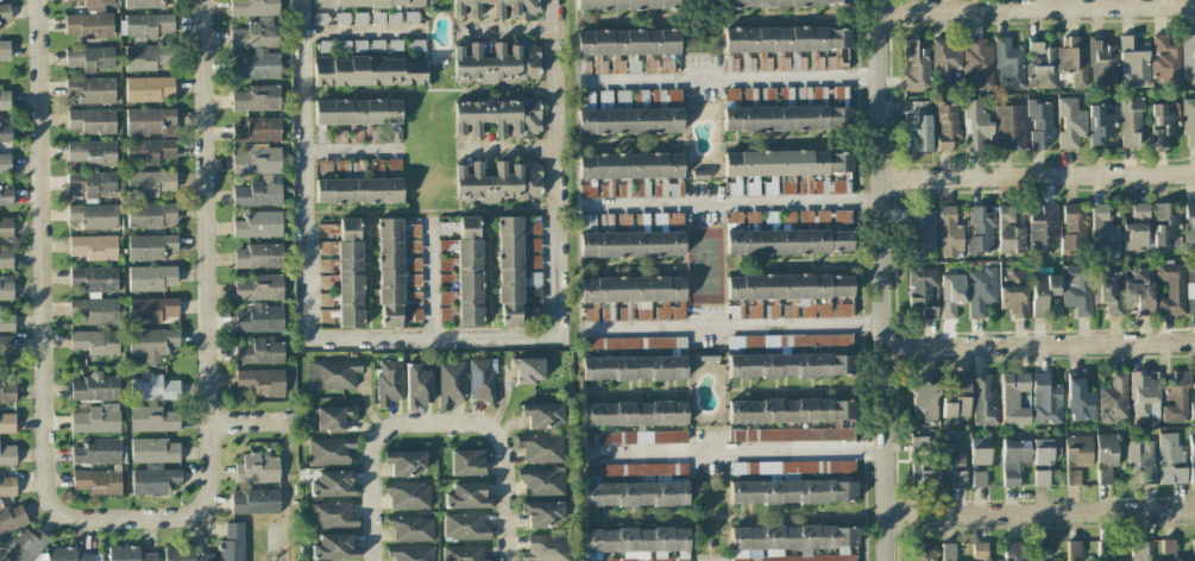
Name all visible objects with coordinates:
building: (778, 1)
building: (145, 4)
building: (364, 4)
building: (93, 5)
building: (251, 6)
building: (625, 6)
road: (1037, 6)
building: (497, 8)
building: (5, 11)
building: (377, 17)
building: (394, 17)
building: (411, 17)
building: (320, 18)
building: (342, 18)
building: (359, 18)
building: (149, 24)
building: (90, 25)
road: (360, 29)
road: (507, 29)
building: (256, 34)
building: (344, 44)
building: (359, 44)
building: (376, 44)
building: (325, 45)
building: (395, 45)
building: (416, 45)
building: (785, 45)
building: (5, 50)
building: (624, 50)
building: (144, 57)
building: (1188, 57)
building: (90, 58)
building: (948, 62)
building: (1165, 62)
building: (979, 63)
building: (1102, 63)
building: (493, 64)
building: (1073, 64)
building: (1133, 64)
building: (914, 65)
building: (1008, 65)
building: (1040, 65)
building: (254, 67)
building: (369, 70)
road: (728, 77)
building: (147, 87)
building: (92, 89)
building: (5, 99)
building: (257, 99)
building: (785, 109)
building: (358, 112)
building: (631, 112)
building: (497, 115)
building: (1131, 120)
building: (92, 121)
building: (151, 121)
building: (1070, 122)
building: (1189, 122)
building: (1039, 124)
building: (1163, 124)
building: (976, 125)
building: (1100, 125)
building: (945, 126)
building: (1010, 126)
building: (918, 128)
building: (256, 131)
building: (6, 133)
building: (321, 134)
building: (338, 134)
building: (354, 134)
building: (372, 134)
building: (389, 134)
road: (351, 146)
road: (507, 149)
building: (92, 151)
building: (151, 151)
building: (258, 160)
building: (5, 163)
road: (555, 166)
building: (394, 168)
building: (323, 169)
building: (341, 169)
building: (358, 169)
building: (376, 169)
road: (301, 170)
building: (791, 172)
building: (699, 175)
building: (629, 176)
road: (1037, 176)
building: (502, 182)
building: (92, 183)
building: (151, 183)
building: (358, 190)
building: (259, 191)
building: (5, 196)
road: (731, 201)
building: (95, 215)
building: (150, 215)
building: (258, 225)
building: (1165, 225)
building: (6, 226)
building: (1106, 226)
building: (1189, 226)
building: (533, 227)
building: (1136, 227)
building: (1043, 228)
building: (951, 229)
building: (1012, 229)
building: (919, 231)
building: (980, 232)
building: (1074, 233)
building: (790, 234)
building: (635, 237)
building: (533, 245)
building: (94, 246)
building: (151, 247)
road: (207, 252)
building: (258, 256)
building: (6, 259)
building: (533, 261)
park: (705, 265)
building: (463, 266)
building: (508, 271)
building: (338, 273)
building: (396, 275)
building: (93, 278)
building: (152, 278)
road: (434, 278)
building: (533, 278)
road: (883, 279)
building: (6, 286)
building: (259, 288)
building: (1171, 288)
building: (1076, 289)
building: (1143, 290)
building: (1190, 290)
building: (981, 291)
building: (1108, 291)
building: (920, 292)
building: (1043, 292)
building: (950, 294)
building: (795, 295)
building: (1015, 296)
building: (534, 297)
building: (631, 297)
building: (152, 308)
building: (94, 311)
building: (534, 315)
building: (260, 317)
building: (7, 323)
road: (736, 326)
road: (42, 334)
road: (430, 336)
building: (95, 341)
building: (152, 342)
building: (790, 342)
building: (6, 343)
road: (1039, 343)
building: (634, 346)
building: (260, 351)
building: (705, 355)
building: (788, 365)
building: (527, 367)
building: (634, 367)
building: (331, 373)
building: (1193, 379)
building: (260, 380)
building: (482, 380)
building: (389, 382)
building: (449, 382)
building: (416, 385)
building: (96, 386)
building: (155, 389)
building: (6, 395)
building: (1144, 395)
building: (923, 398)
building: (1176, 398)
building: (1014, 399)
building: (1045, 399)
building: (1080, 399)
building: (1114, 399)
building: (958, 402)
building: (983, 402)
building: (1191, 409)
building: (791, 411)
building: (542, 415)
building: (634, 415)
building: (332, 416)
building: (99, 418)
building: (152, 418)
building: (6, 423)
road: (251, 423)
road: (434, 429)
building: (791, 435)
building: (634, 439)
building: (919, 442)
building: (542, 448)
road: (736, 448)
building: (155, 449)
building: (952, 449)
building: (329, 450)
building: (1045, 450)
building: (98, 452)
building: (8, 455)
building: (1076, 456)
building: (1106, 456)
building: (1013, 460)
building: (1141, 460)
building: (1170, 460)
building: (470, 461)
building: (979, 461)
building: (405, 462)
building: (1191, 462)
building: (791, 467)
building: (258, 468)
building: (636, 471)
building: (1040, 478)
building: (153, 480)
building: (541, 480)
building: (98, 481)
building: (333, 484)
building: (7, 485)
road: (284, 491)
building: (793, 492)
building: (407, 494)
building: (634, 494)
building: (466, 497)
building: (257, 500)
road: (1040, 511)
building: (543, 512)
building: (333, 515)
building: (10, 516)
building: (465, 527)
building: (409, 528)
building: (794, 538)
building: (637, 540)
building: (232, 543)
building: (24, 544)
building: (334, 547)
building: (547, 548)
building: (1042, 549)
building: (1193, 549)
building: (1074, 550)
building: (1139, 550)
building: (1169, 550)
building: (949, 551)
building: (979, 551)
building: (1012, 551)
building: (410, 553)
building: (464, 553)
building: (69, 554)
building: (924, 554)
building: (131, 555)
building: (184, 555)
building: (639, 559)
building: (801, 559)
building: (990, 560)

